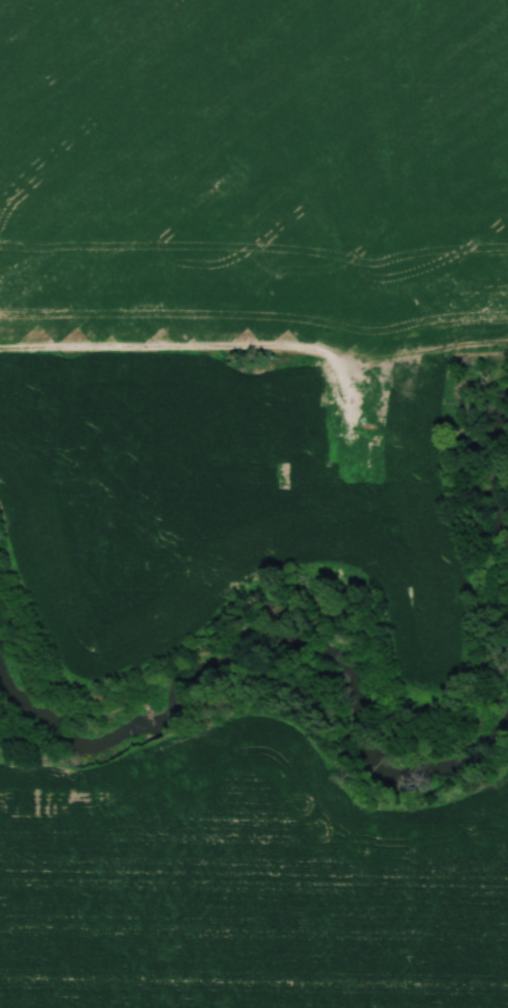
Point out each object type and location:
road: (201, 348)
building: (268, 374)
building: (405, 395)
building: (163, 415)
building: (234, 429)
building: (369, 462)
building: (295, 465)
river: (490, 489)
river: (275, 647)

